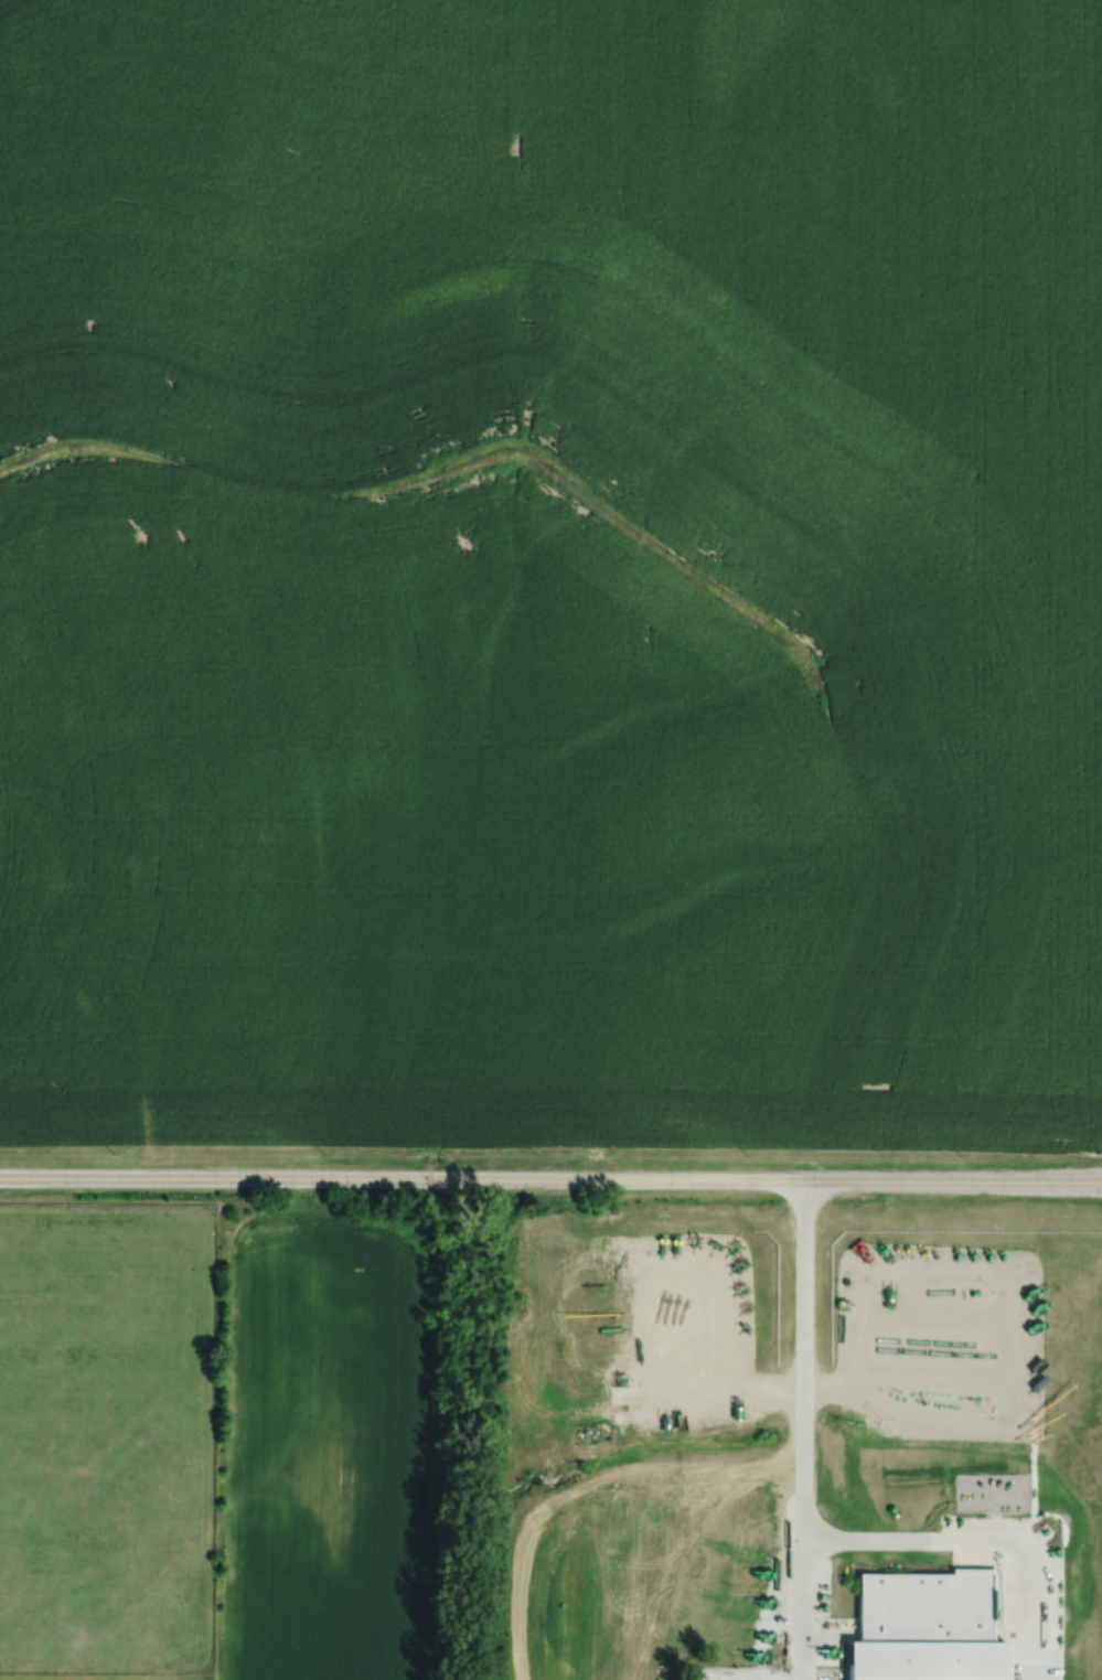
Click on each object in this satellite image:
road: (550, 1179)
road: (803, 1359)
road: (896, 1387)
road: (876, 1538)
road: (1031, 1574)
road: (802, 1608)
building: (928, 1627)

